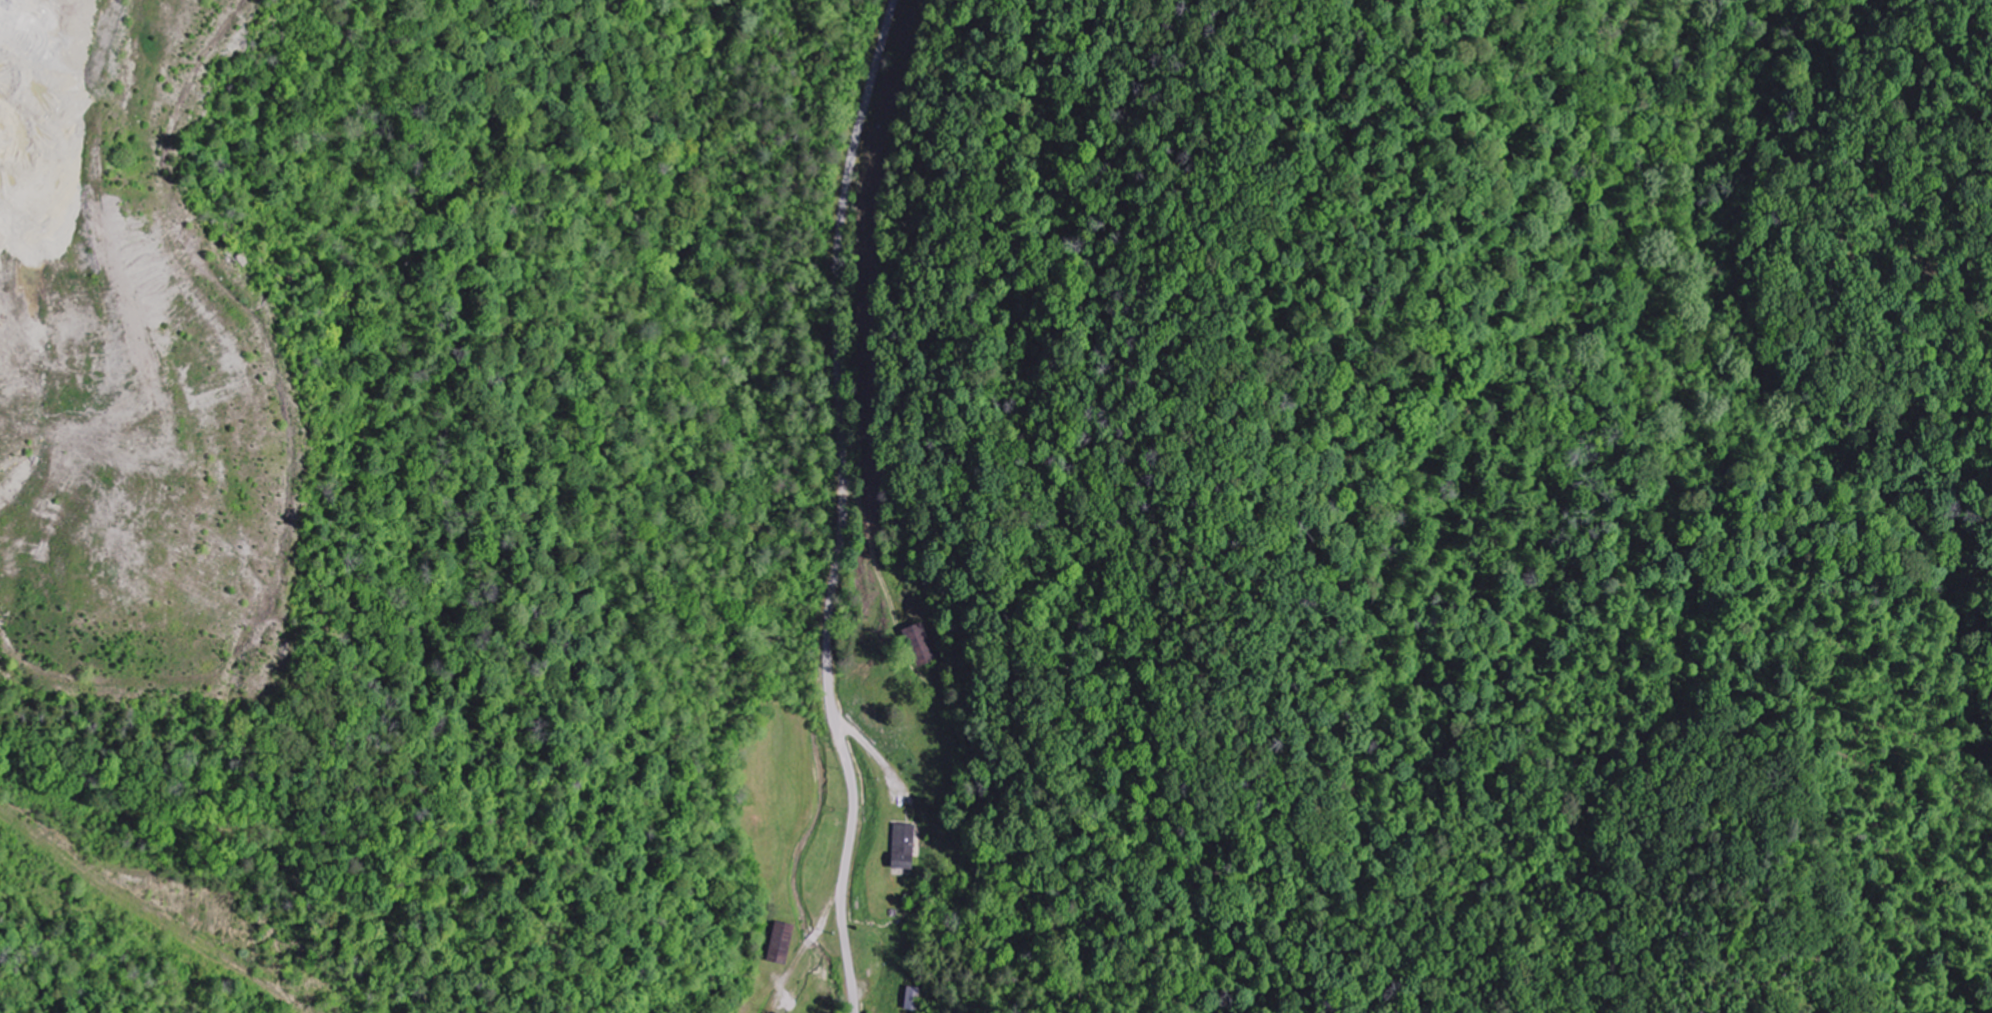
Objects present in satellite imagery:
road: (840, 505)
building: (904, 847)
road: (834, 898)
building: (912, 1000)

